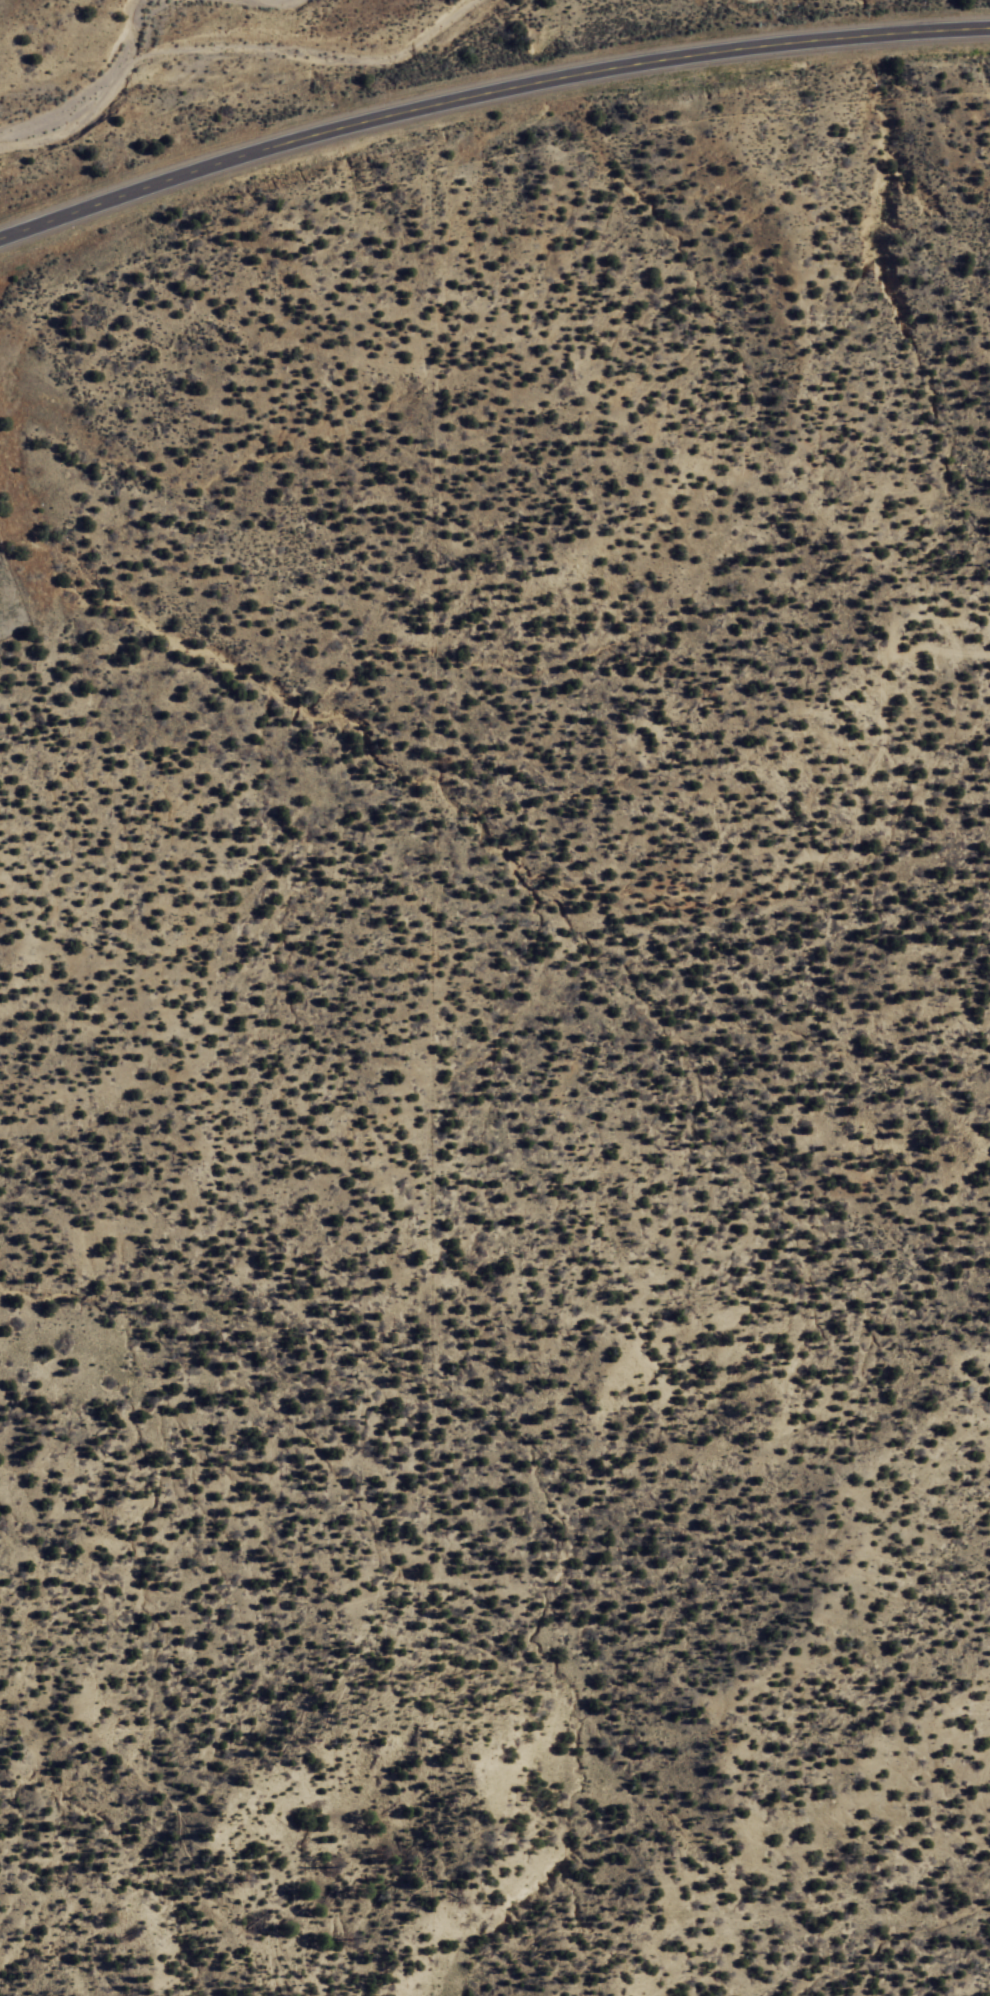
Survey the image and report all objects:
road: (477, 55)

